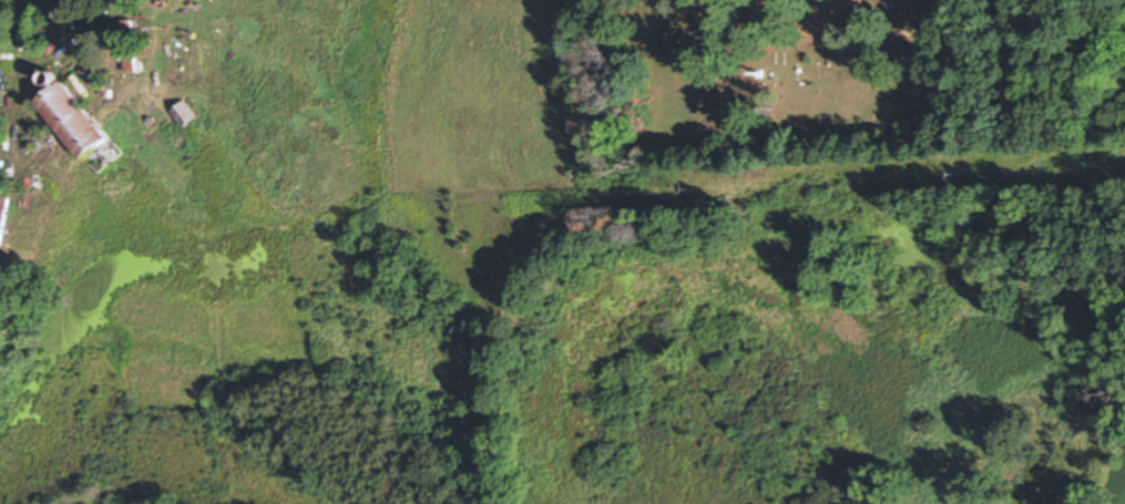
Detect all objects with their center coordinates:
building: (126, 61)
building: (181, 114)
building: (74, 127)
road: (1085, 239)

